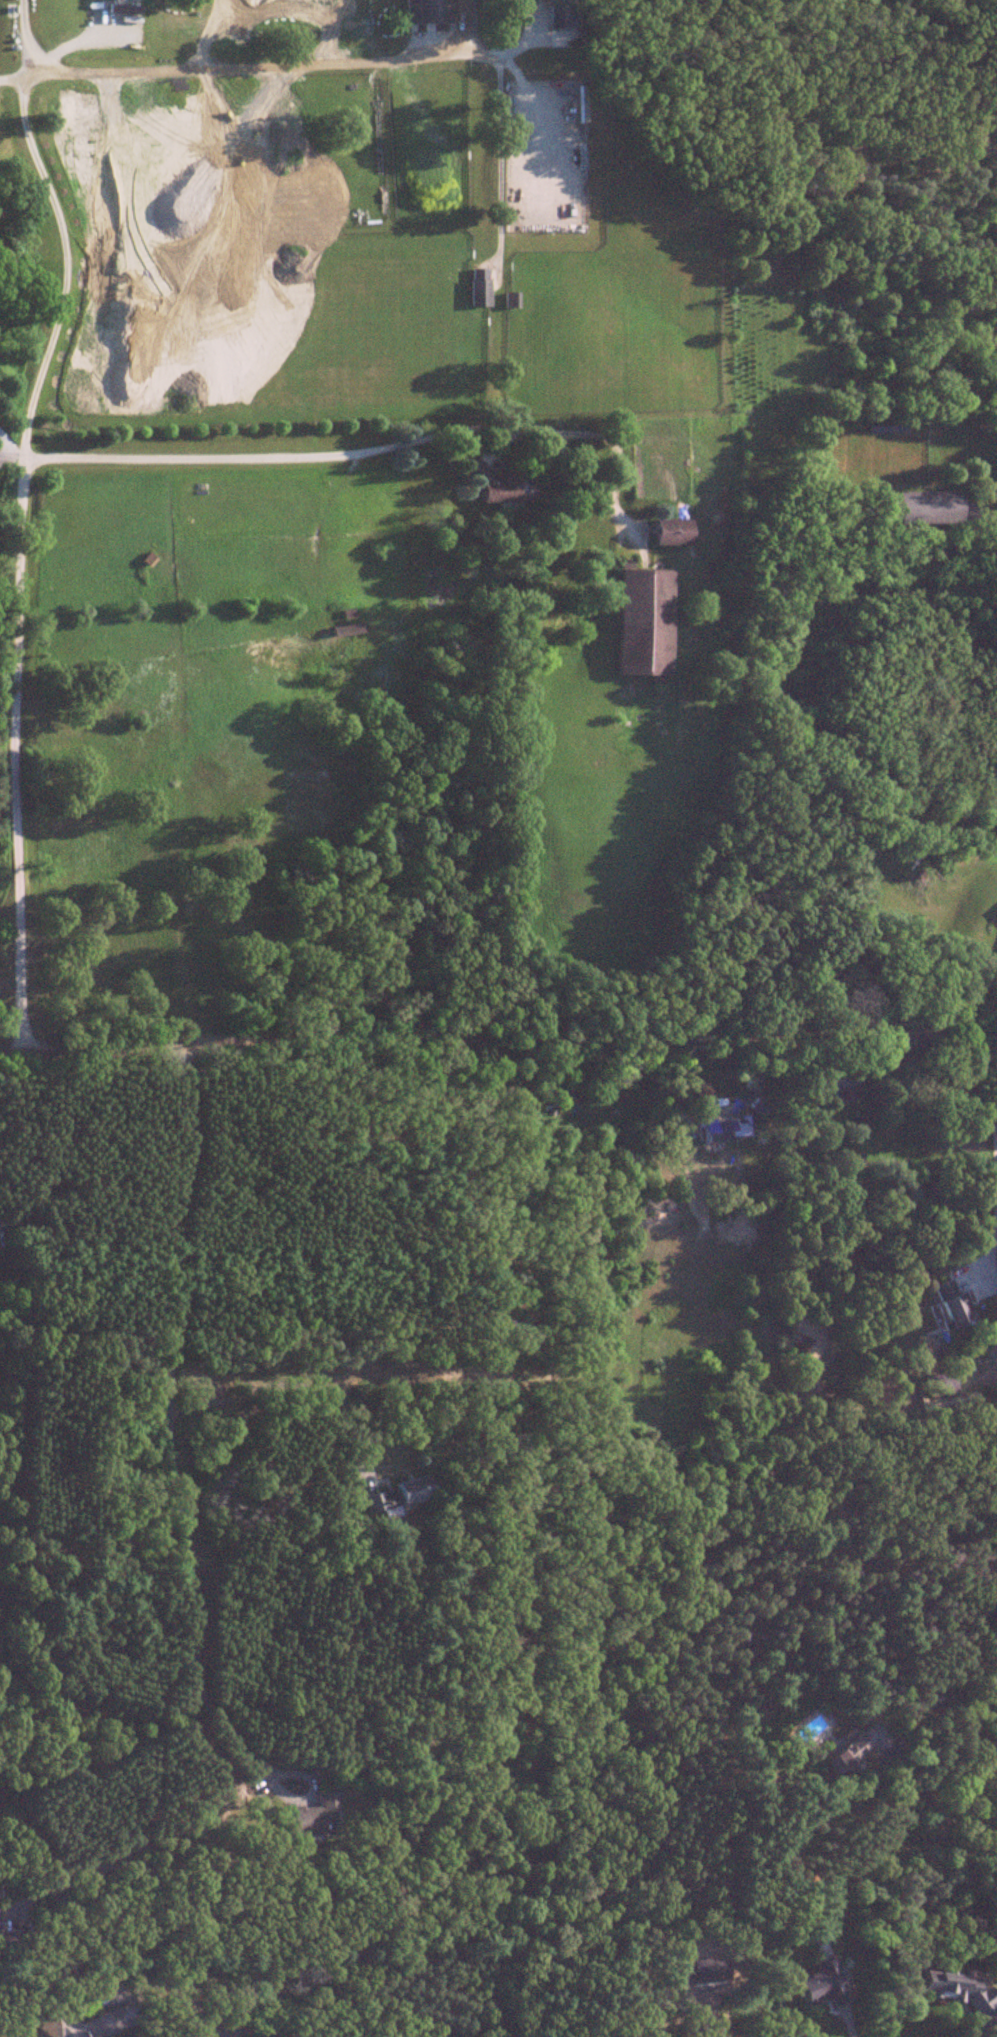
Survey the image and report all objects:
building: (429, 11)
building: (562, 16)
road: (449, 23)
road: (281, 60)
road: (8, 72)
road: (487, 163)
road: (50, 226)
building: (478, 292)
building: (510, 300)
road: (7, 443)
road: (347, 448)
road: (7, 453)
building: (496, 484)
building: (926, 506)
building: (671, 532)
building: (534, 576)
building: (643, 623)
building: (345, 630)
road: (1, 752)
road: (498, 1039)
building: (837, 1083)
building: (559, 1097)
road: (710, 1108)
building: (727, 1129)
road: (994, 1155)
building: (950, 1306)
road: (295, 1382)
building: (398, 1496)
road: (183, 1533)
building: (855, 1749)
building: (317, 1817)
road: (945, 1818)
building: (4, 1940)
building: (954, 1988)
road: (83, 2021)
building: (87, 2024)
building: (225, 2031)

